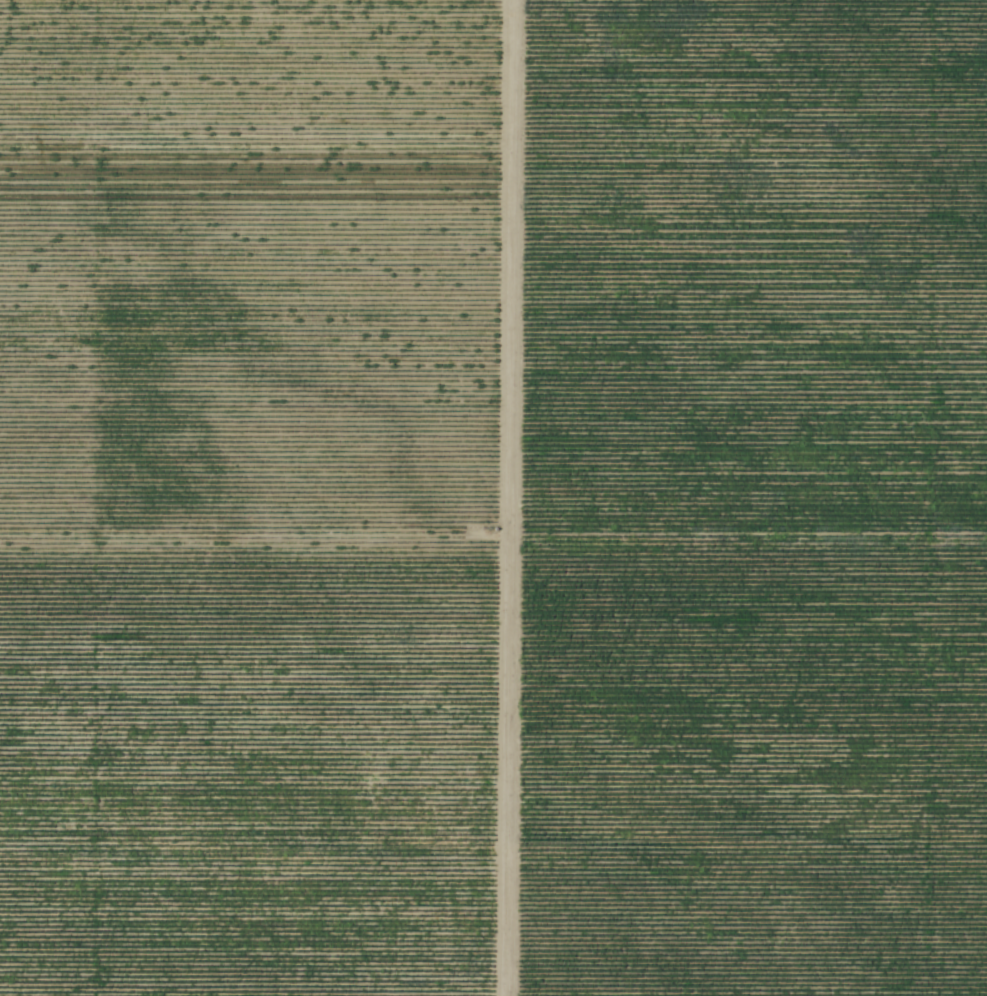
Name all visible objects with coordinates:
road: (504, 498)

